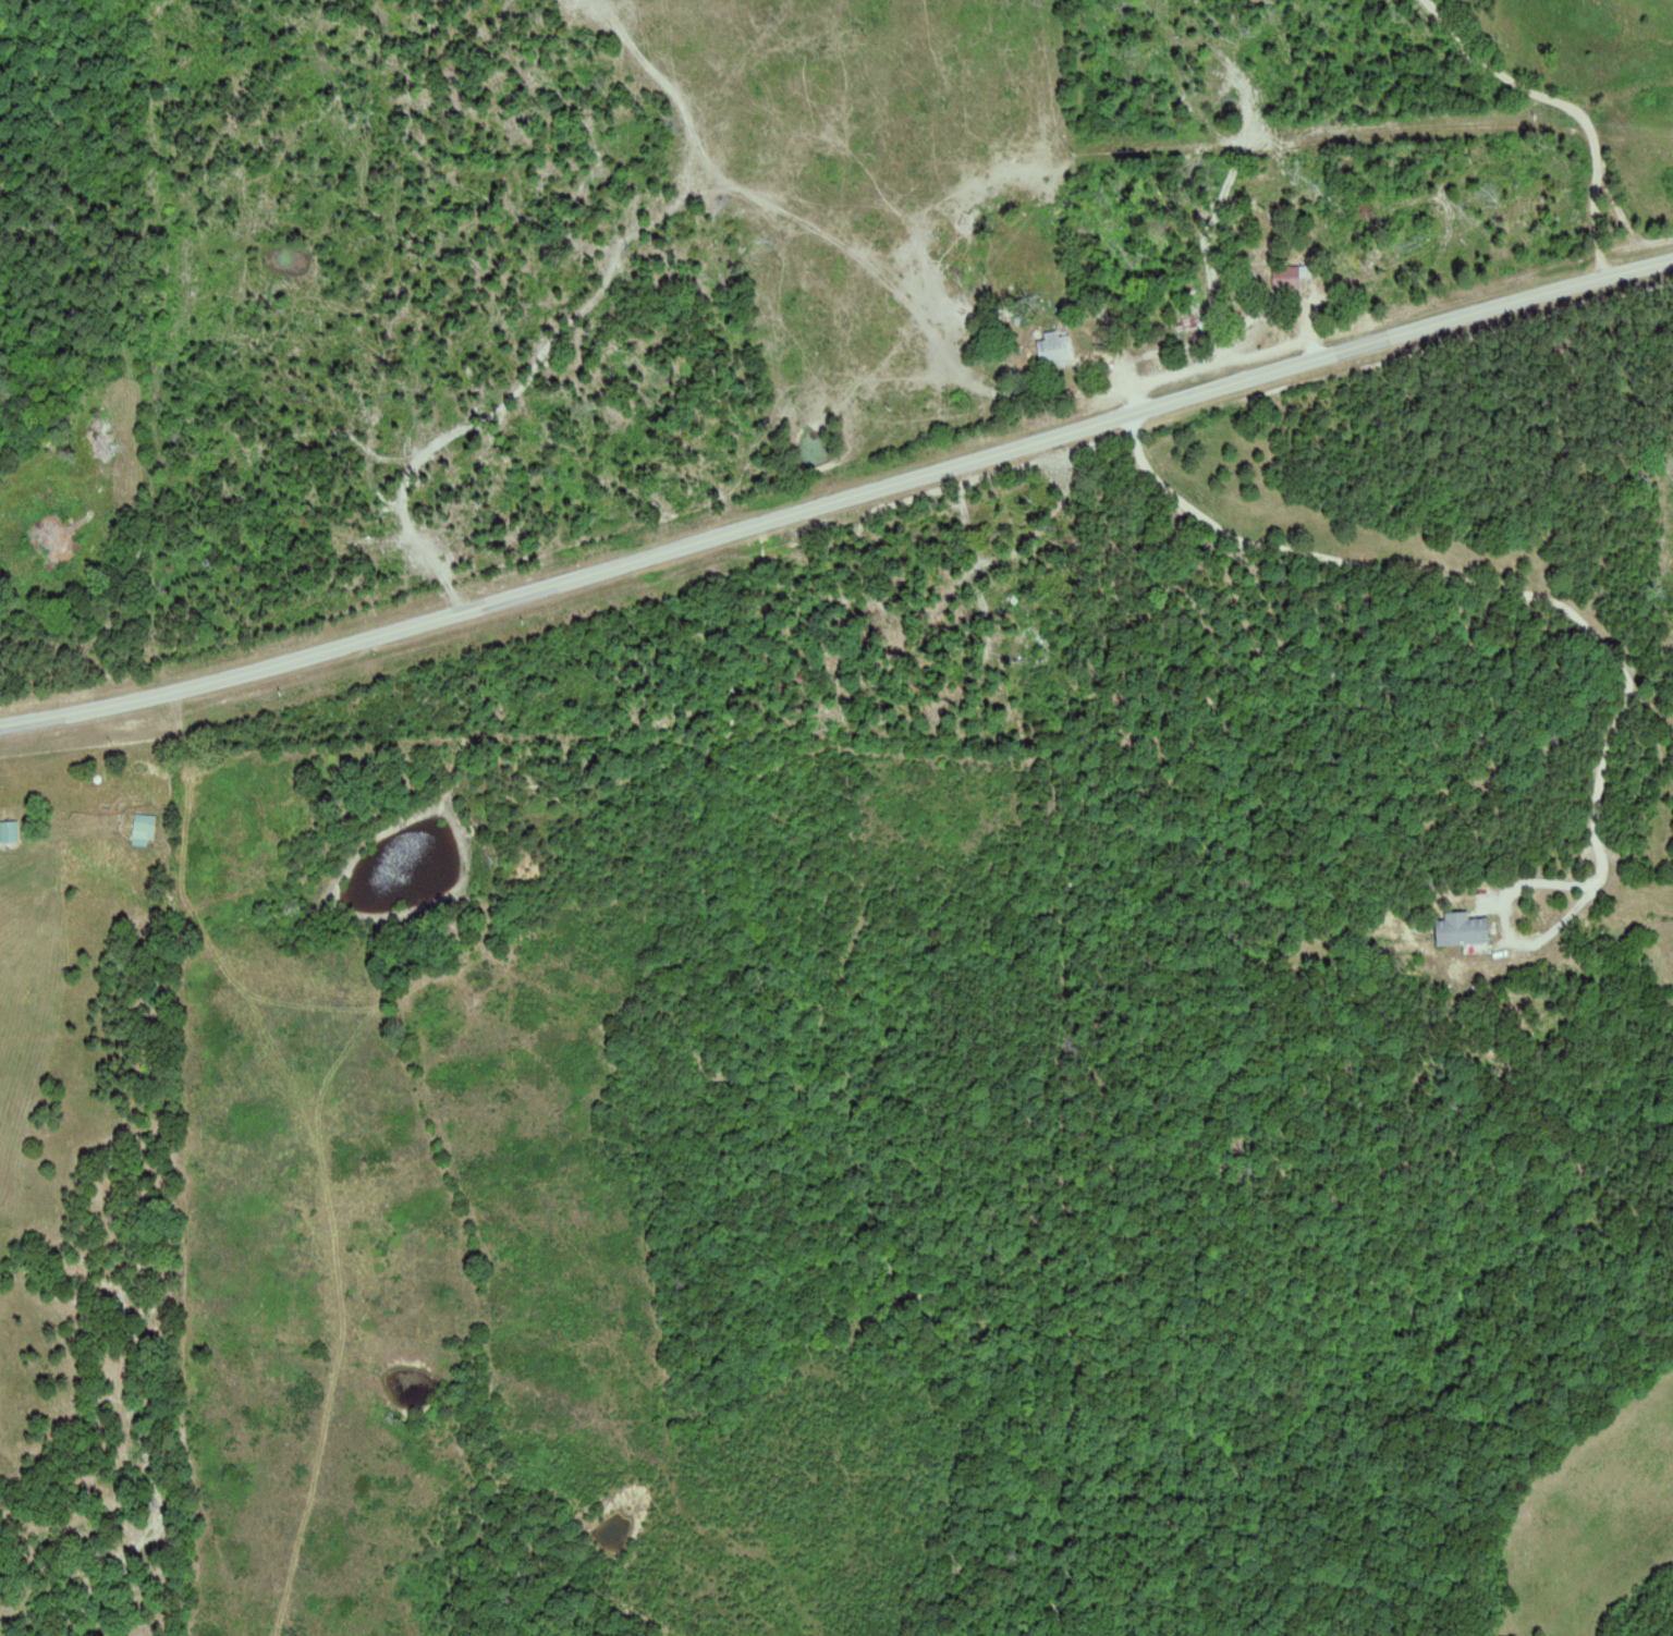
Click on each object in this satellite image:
road: (1559, 109)
building: (1298, 277)
building: (1067, 347)
road: (838, 500)
road: (1467, 566)
building: (152, 830)
building: (19, 831)
building: (1476, 928)

